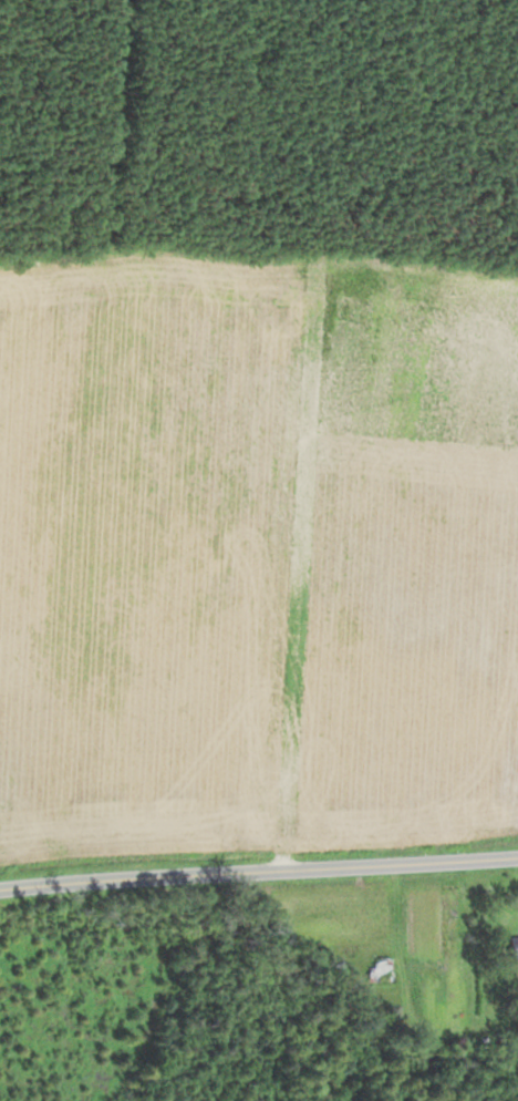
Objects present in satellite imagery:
road: (258, 870)
building: (511, 945)
building: (380, 969)

